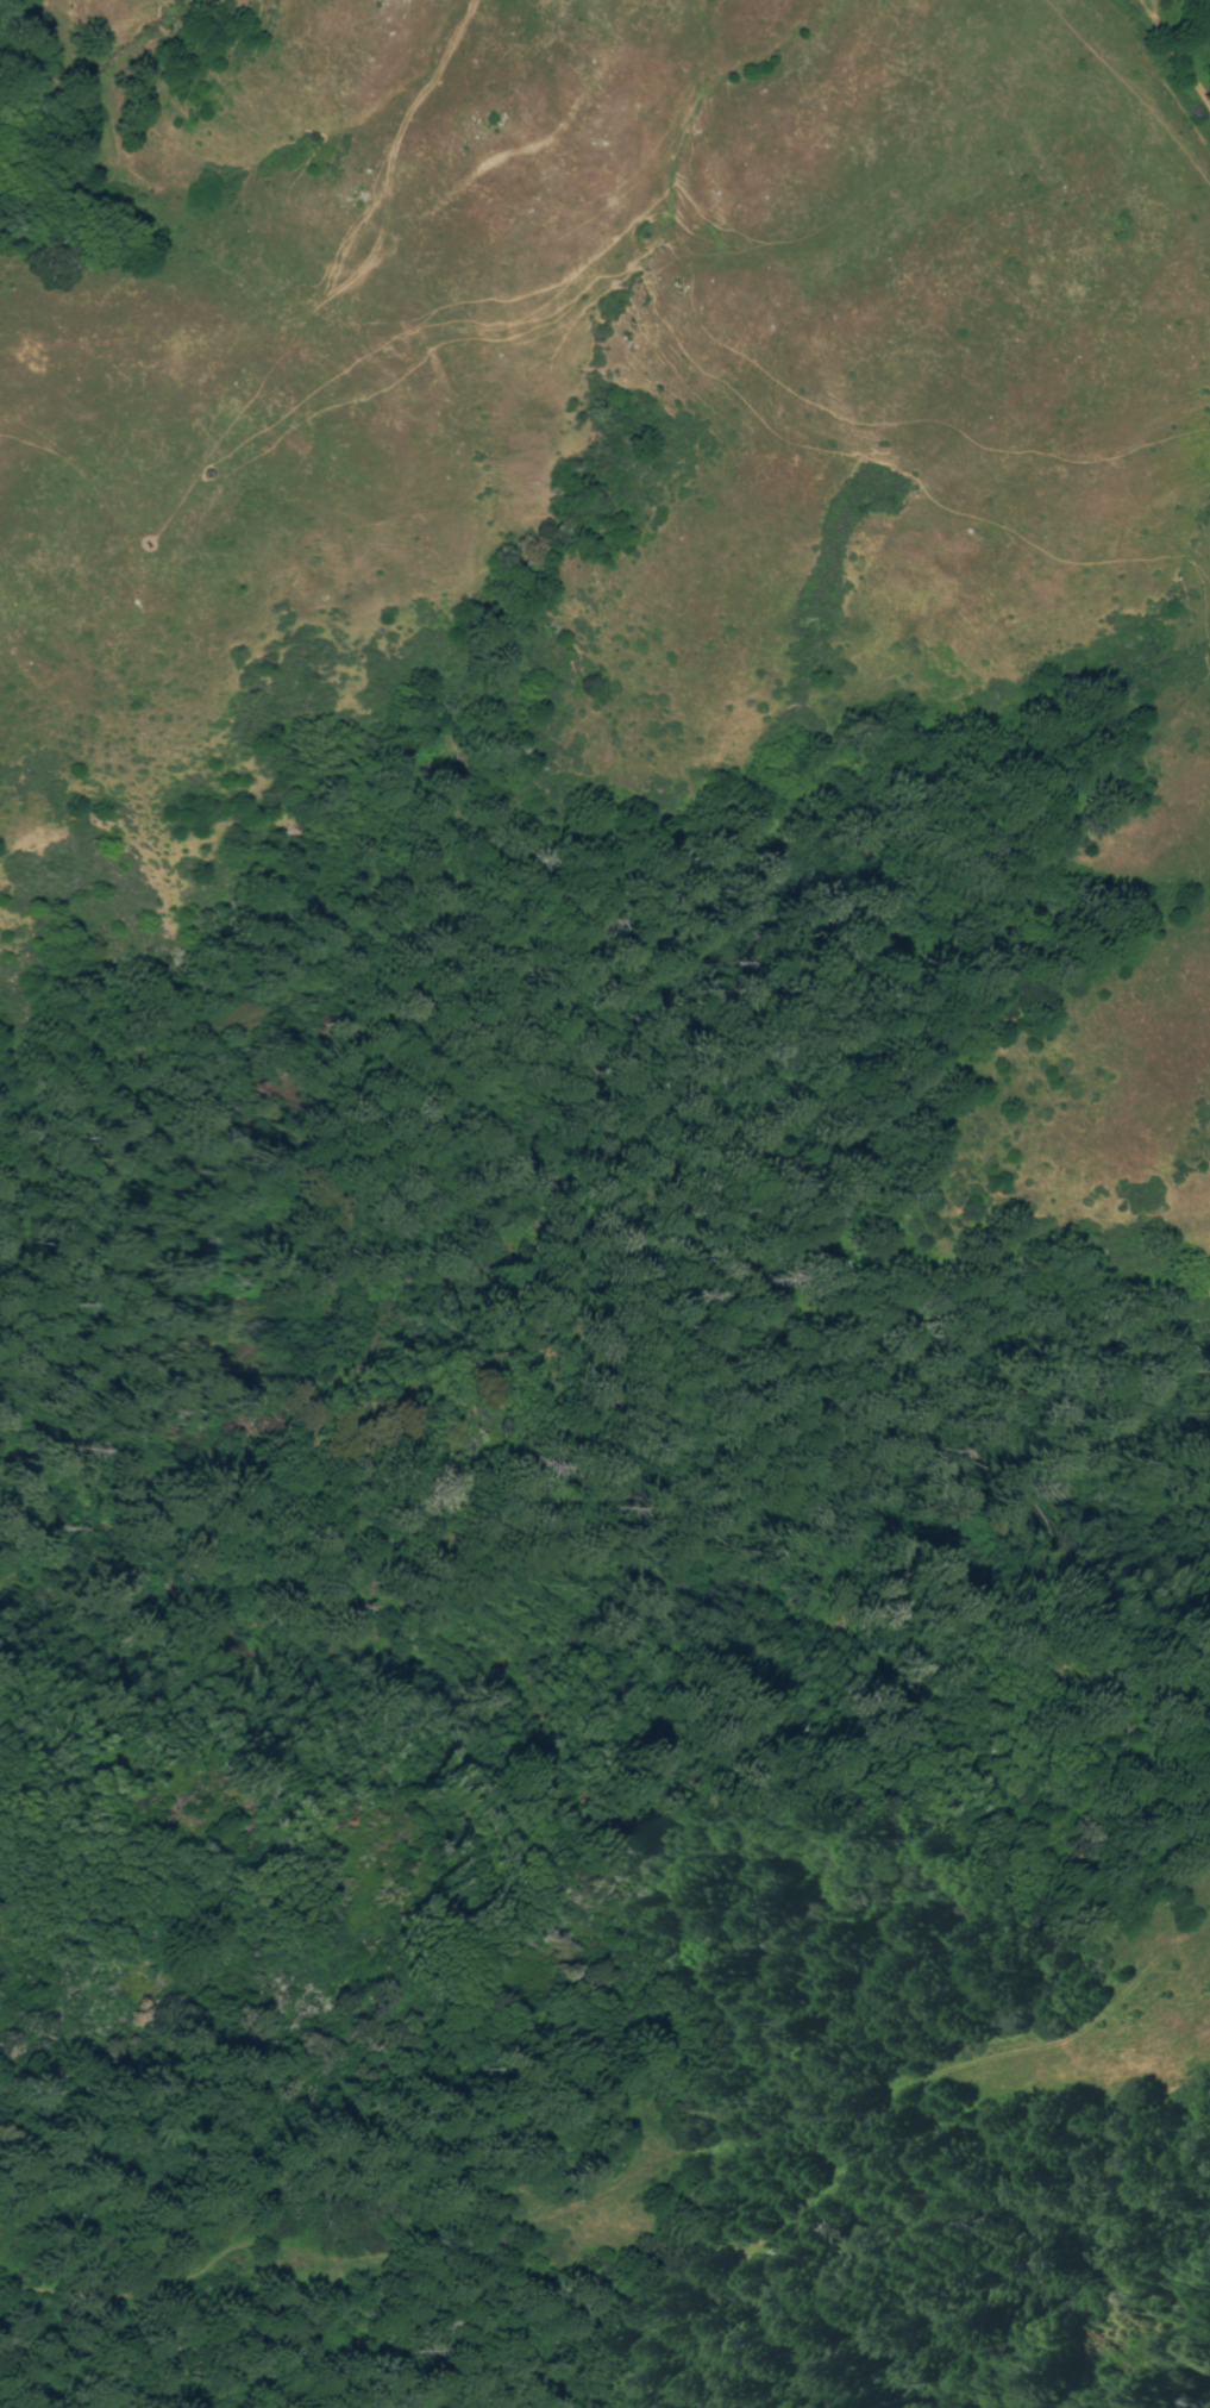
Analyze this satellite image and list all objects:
road: (1151, 7)
road: (1156, 7)
road: (1183, 55)
road: (627, 2169)

